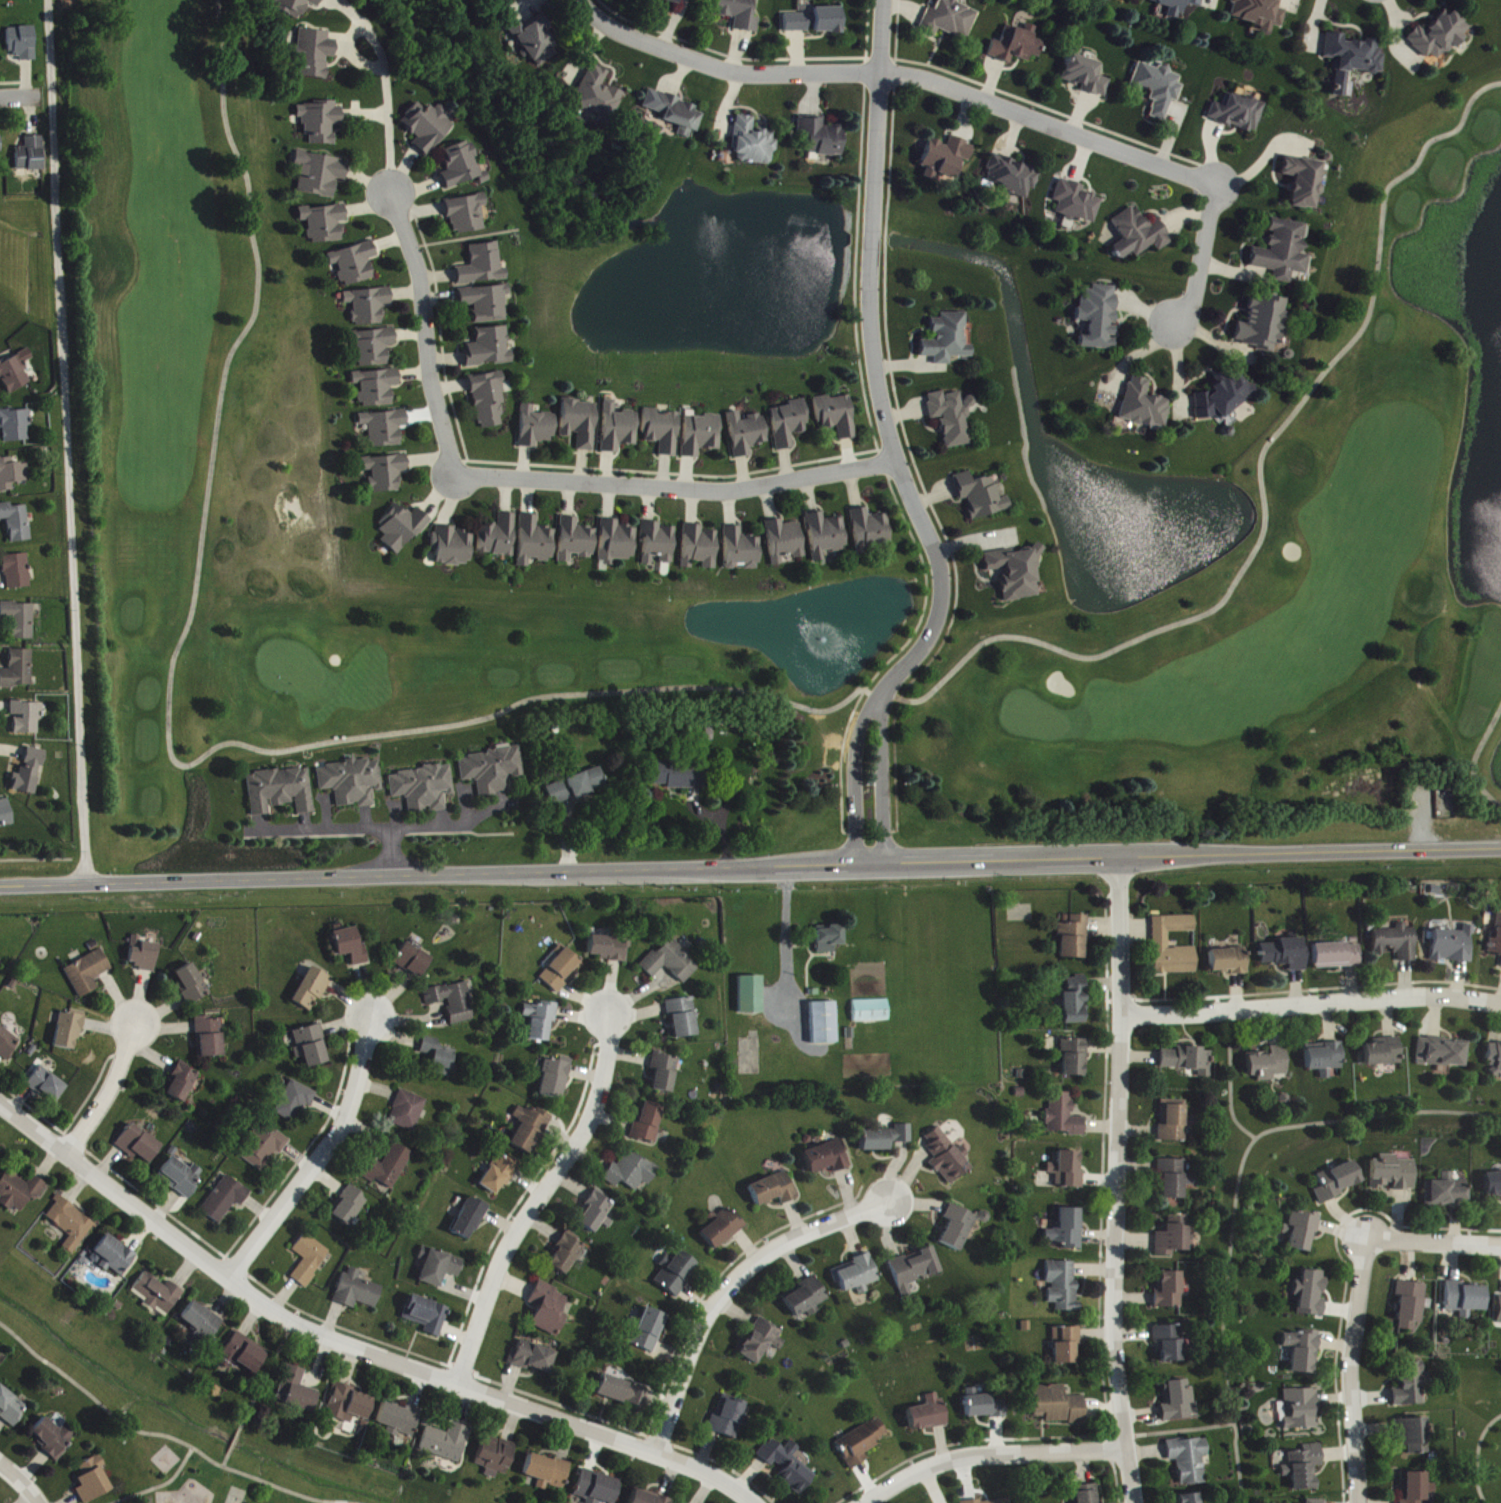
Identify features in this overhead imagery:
building: (671, 1)
building: (1177, 6)
building: (297, 7)
building: (1259, 13)
building: (740, 14)
building: (951, 20)
building: (817, 22)
building: (1439, 36)
building: (536, 42)
building: (23, 43)
building: (1018, 45)
building: (315, 54)
building: (1352, 61)
road: (724, 67)
building: (1087, 76)
building: (1159, 88)
road: (383, 90)
road: (18, 94)
building: (597, 96)
building: (676, 113)
building: (1239, 113)
building: (321, 122)
building: (428, 127)
building: (822, 140)
building: (754, 144)
building: (1, 145)
road: (1122, 149)
building: (32, 155)
building: (946, 158)
building: (462, 166)
building: (321, 175)
building: (1012, 176)
building: (1303, 182)
building: (1077, 203)
building: (466, 215)
building: (325, 224)
building: (1139, 235)
building: (1282, 252)
building: (354, 264)
building: (482, 266)
building: (486, 303)
building: (368, 306)
building: (1098, 317)
building: (1262, 325)
building: (947, 339)
building: (373, 348)
building: (489, 349)
building: (16, 373)
building: (377, 388)
building: (1223, 398)
building: (490, 399)
building: (1144, 406)
building: (836, 416)
building: (950, 418)
building: (581, 424)
building: (789, 424)
building: (17, 426)
building: (536, 428)
building: (385, 429)
building: (619, 429)
building: (662, 431)
building: (747, 434)
building: (701, 435)
park: (208, 440)
road: (68, 443)
road: (892, 448)
building: (386, 473)
building: (13, 475)
road: (530, 480)
road: (1265, 492)
building: (979, 496)
building: (17, 522)
building: (403, 529)
building: (871, 531)
building: (826, 536)
building: (499, 538)
building: (576, 541)
building: (536, 542)
building: (785, 542)
building: (618, 543)
building: (658, 544)
building: (454, 547)
building: (700, 548)
building: (742, 550)
building: (18, 572)
building: (1016, 573)
building: (21, 620)
fountain: (816, 636)
building: (20, 670)
building: (28, 718)
road: (847, 723)
road: (173, 743)
road: (1478, 765)
building: (495, 770)
building: (31, 773)
building: (680, 776)
building: (353, 782)
building: (579, 787)
building: (425, 789)
building: (282, 792)
building: (6, 815)
road: (451, 829)
road: (344, 832)
road: (35, 857)
road: (841, 860)
road: (750, 869)
road: (841, 878)
road: (750, 883)
building: (830, 940)
building: (1162, 941)
building: (1397, 943)
building: (1496, 943)
road: (791, 944)
building: (1453, 946)
building: (352, 947)
building: (612, 949)
building: (145, 955)
building: (1286, 955)
building: (1339, 956)
building: (413, 961)
building: (1229, 962)
building: (672, 963)
building: (562, 971)
building: (89, 973)
building: (193, 984)
building: (313, 989)
building: (752, 996)
building: (454, 1002)
building: (1075, 1002)
road: (1313, 1002)
building: (872, 1012)
building: (684, 1019)
building: (541, 1021)
building: (825, 1024)
building: (70, 1031)
building: (211, 1038)
building: (8, 1043)
building: (312, 1047)
building: (1384, 1053)
building: (1444, 1053)
building: (440, 1057)
building: (1495, 1058)
building: (1075, 1059)
building: (1327, 1060)
building: (1190, 1061)
building: (1269, 1065)
building: (665, 1073)
road: (1230, 1076)
building: (556, 1079)
building: (183, 1084)
building: (48, 1086)
road: (112, 1089)
building: (295, 1103)
building: (409, 1112)
building: (1065, 1116)
building: (1175, 1122)
building: (649, 1123)
building: (530, 1129)
building: (903, 1135)
building: (876, 1141)
building: (140, 1145)
building: (265, 1149)
building: (0, 1151)
road: (324, 1155)
building: (948, 1157)
building: (827, 1159)
building: (390, 1168)
building: (1068, 1172)
building: (632, 1173)
building: (501, 1174)
building: (1395, 1174)
building: (184, 1178)
building: (1174, 1180)
road: (1118, 1181)
building: (1340, 1182)
building: (774, 1190)
building: (19, 1191)
road: (1235, 1193)
building: (1448, 1194)
road: (540, 1196)
building: (226, 1200)
building: (350, 1207)
building: (597, 1214)
building: (471, 1219)
building: (71, 1224)
building: (961, 1227)
building: (722, 1228)
building: (1068, 1231)
building: (1303, 1233)
building: (1176, 1237)
building: (566, 1256)
building: (113, 1257)
building: (310, 1260)
building: (439, 1268)
building: (915, 1271)
building: (676, 1274)
building: (857, 1276)
road: (731, 1284)
building: (1063, 1287)
building: (359, 1291)
building: (1170, 1292)
building: (1312, 1294)
building: (159, 1295)
building: (806, 1299)
building: (1466, 1300)
road: (1356, 1303)
building: (1411, 1307)
building: (549, 1310)
building: (1499, 1313)
road: (295, 1314)
building: (427, 1316)
building: (202, 1322)
building: (647, 1331)
road: (364, 1334)
building: (762, 1342)
road: (355, 1344)
building: (1066, 1345)
building: (1171, 1345)
building: (1304, 1352)
building: (243, 1355)
building: (534, 1359)
building: (0, 1364)
road: (264, 1373)
building: (1411, 1386)
building: (295, 1391)
building: (620, 1392)
building: (1178, 1402)
building: (349, 1405)
building: (984, 1406)
building: (1059, 1406)
building: (11, 1408)
building: (1300, 1411)
building: (928, 1415)
building: (729, 1418)
building: (399, 1421)
road: (1179, 1428)
road: (162, 1434)
building: (1414, 1436)
road: (233, 1438)
building: (54, 1439)
road: (970, 1439)
building: (446, 1443)
building: (861, 1444)
road: (990, 1453)
road: (1476, 1454)
road: (225, 1457)
building: (496, 1457)
building: (1190, 1461)
park: (1489, 1461)
building: (788, 1466)
building: (1304, 1468)
building: (547, 1473)
park: (200, 1476)
road: (22, 1480)
building: (94, 1481)
road: (157, 1484)
building: (1414, 1488)
building: (597, 1489)
building: (1088, 1494)
park: (235, 1495)
building: (646, 1498)
building: (1190, 1499)
building: (998, 1501)
building: (1315, 1502)

